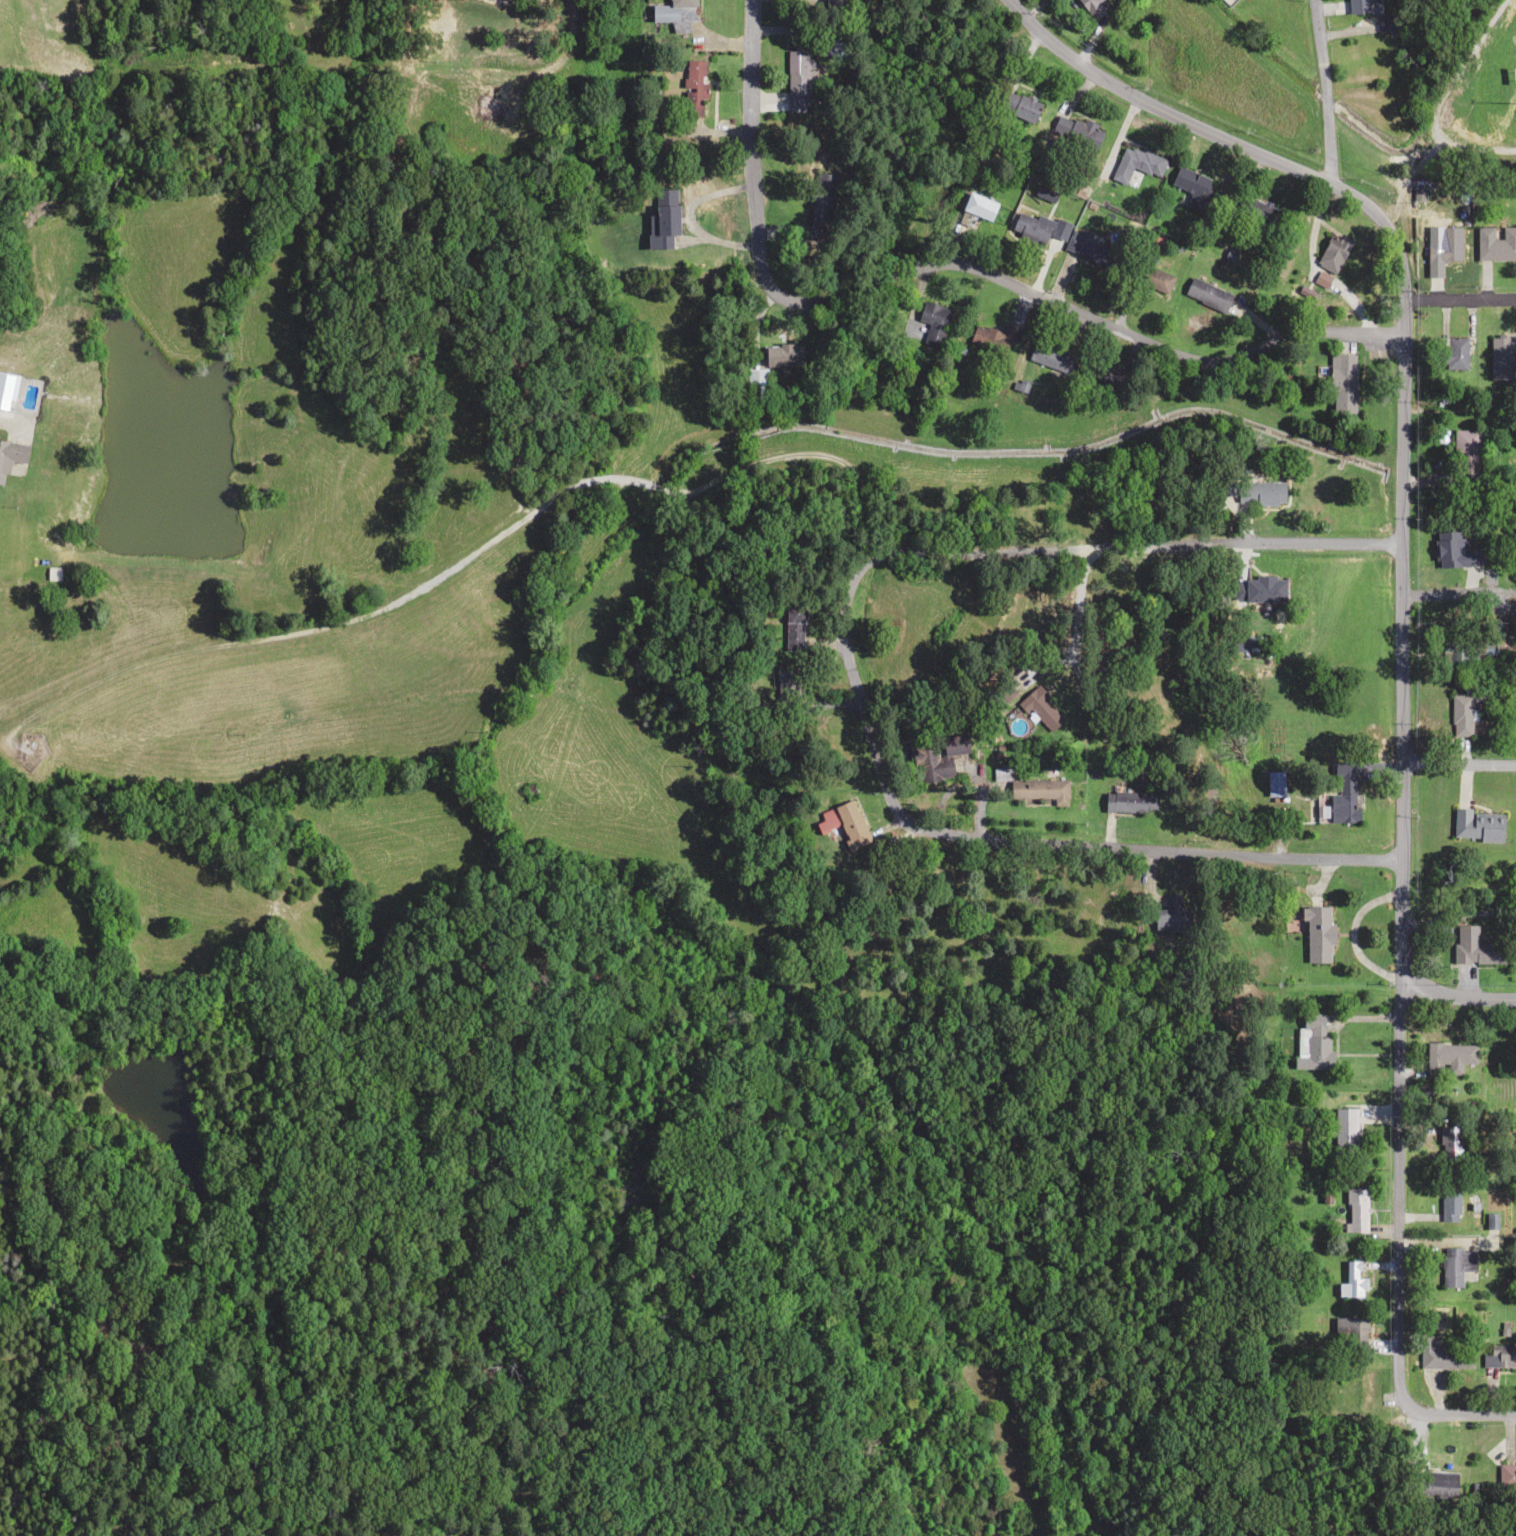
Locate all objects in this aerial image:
building: (1359, 6)
building: (1090, 8)
building: (673, 14)
road: (605, 23)
building: (798, 80)
building: (692, 89)
road: (1320, 91)
building: (1021, 107)
building: (1076, 129)
building: (1137, 165)
building: (1192, 187)
building: (819, 204)
building: (978, 206)
building: (1250, 211)
building: (662, 220)
building: (1029, 228)
building: (1496, 244)
building: (1444, 245)
building: (1086, 247)
building: (1331, 249)
road: (948, 265)
building: (1154, 279)
building: (1207, 294)
road: (1459, 300)
building: (932, 322)
building: (991, 341)
building: (1452, 353)
building: (780, 356)
building: (1501, 356)
building: (1050, 357)
road: (1404, 375)
building: (1112, 377)
building: (756, 384)
building: (1342, 384)
building: (1465, 454)
building: (11, 456)
building: (1259, 493)
road: (1139, 560)
road: (463, 563)
building: (1262, 588)
building: (793, 626)
building: (1457, 654)
building: (1041, 708)
building: (1514, 708)
building: (1459, 714)
building: (944, 757)
road: (1457, 761)
building: (1273, 782)
building: (1039, 789)
building: (1343, 796)
building: (1129, 801)
building: (844, 822)
building: (1477, 824)
road: (1025, 838)
building: (1171, 914)
building: (1317, 934)
building: (1474, 946)
road: (1457, 995)
building: (1313, 1042)
building: (1448, 1056)
building: (1344, 1126)
building: (1449, 1141)
road: (1397, 1188)
building: (1449, 1204)
building: (1356, 1209)
building: (1455, 1264)
building: (1353, 1277)
building: (1349, 1331)
building: (1443, 1355)
building: (1502, 1355)
road: (1458, 1413)
building: (1506, 1473)
building: (1436, 1483)

